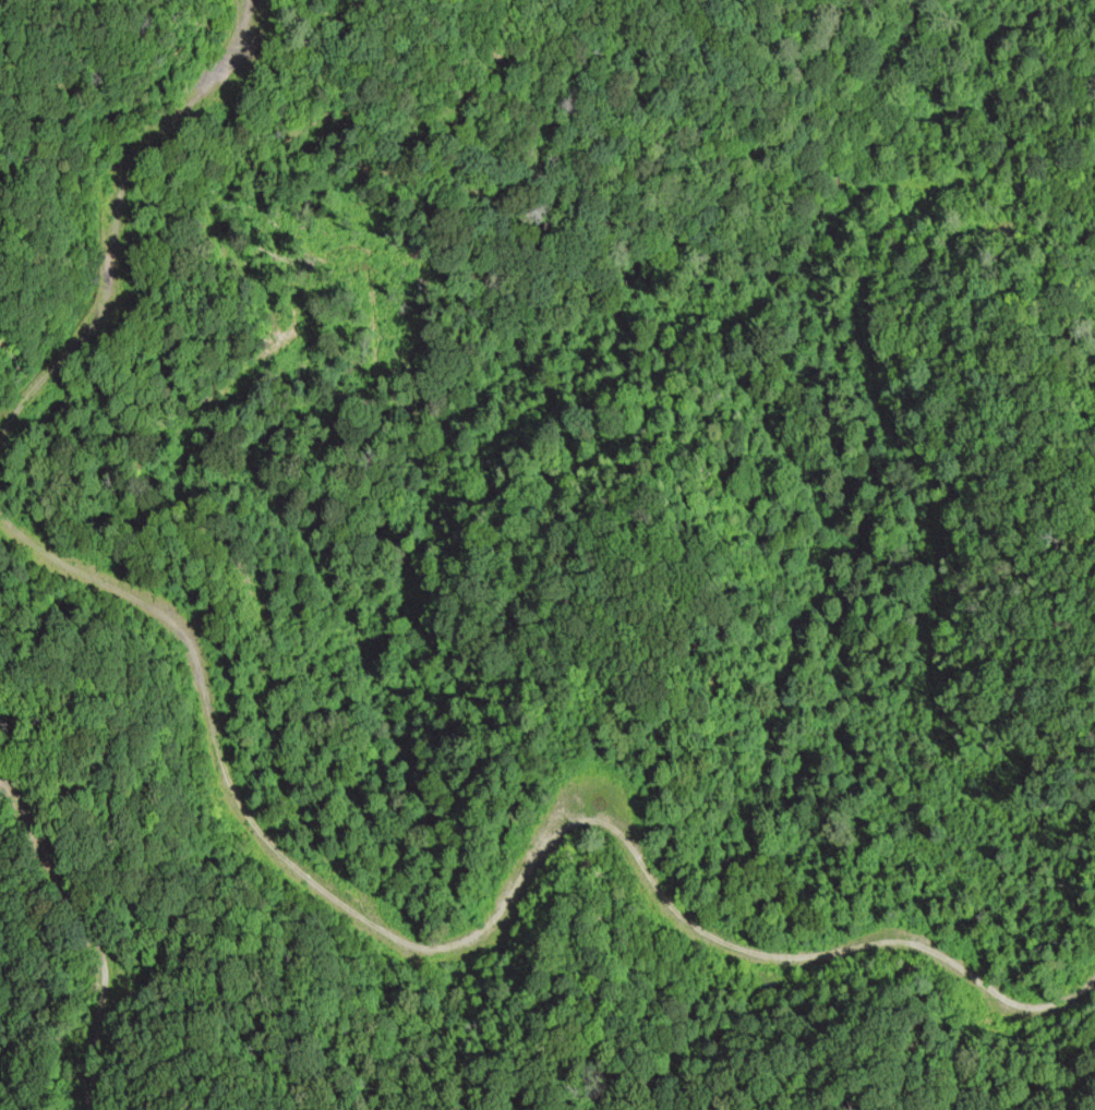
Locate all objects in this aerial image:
road: (59, 871)
road: (85, 1046)

